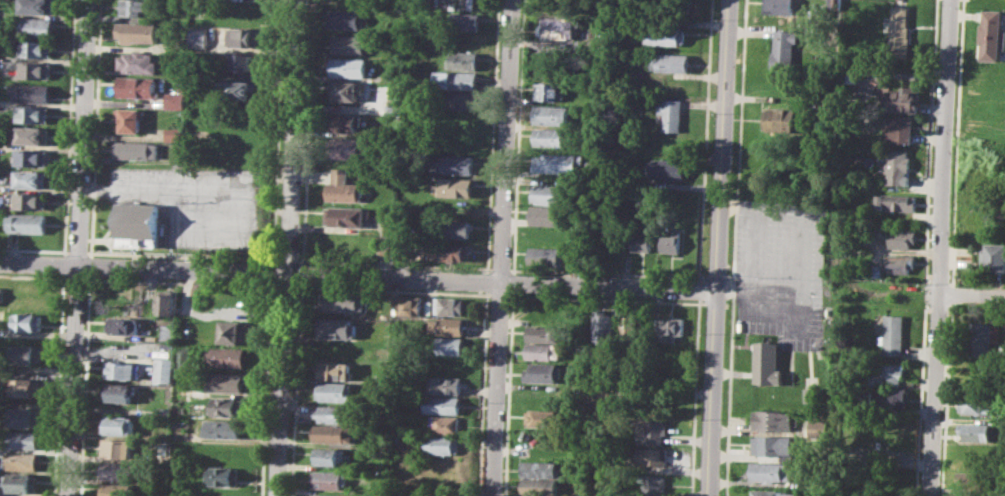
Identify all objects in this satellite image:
building: (37, 6)
building: (832, 6)
building: (136, 7)
building: (780, 7)
building: (243, 13)
building: (347, 19)
building: (462, 21)
building: (560, 26)
building: (34, 27)
building: (901, 30)
building: (140, 32)
building: (664, 34)
building: (991, 34)
building: (241, 37)
building: (349, 44)
building: (786, 48)
building: (36, 49)
building: (462, 60)
building: (670, 61)
building: (137, 63)
building: (243, 63)
building: (348, 67)
building: (36, 70)
building: (851, 75)
building: (456, 80)
building: (138, 86)
building: (240, 89)
building: (346, 90)
building: (31, 92)
building: (549, 92)
building: (459, 100)
building: (903, 100)
building: (174, 101)
building: (828, 105)
building: (33, 113)
building: (672, 113)
building: (552, 114)
building: (782, 118)
building: (130, 119)
building: (458, 120)
building: (346, 123)
building: (900, 128)
building: (174, 133)
building: (31, 134)
building: (552, 136)
building: (458, 142)
road: (724, 145)
road: (944, 146)
building: (347, 147)
building: (136, 149)
building: (33, 157)
building: (178, 159)
building: (557, 161)
building: (457, 164)
building: (899, 167)
building: (667, 168)
building: (31, 178)
building: (343, 187)
building: (457, 187)
building: (550, 194)
building: (31, 201)
building: (896, 202)
parking lot: (192, 203)
building: (549, 214)
building: (345, 216)
building: (28, 223)
building: (137, 224)
building: (456, 230)
building: (899, 237)
building: (643, 240)
building: (672, 242)
road: (77, 247)
road: (286, 247)
road: (503, 247)
building: (387, 248)
road: (757, 248)
building: (453, 252)
building: (547, 256)
building: (994, 257)
building: (899, 263)
building: (873, 270)
road: (359, 278)
building: (2, 294)
road: (971, 294)
building: (342, 301)
building: (166, 303)
building: (449, 305)
building: (409, 306)
building: (27, 321)
building: (632, 323)
building: (124, 325)
building: (671, 325)
building: (447, 326)
building: (603, 326)
building: (337, 327)
building: (234, 331)
building: (170, 332)
building: (542, 332)
building: (892, 335)
building: (983, 338)
building: (449, 345)
building: (541, 351)
building: (26, 353)
building: (230, 357)
building: (768, 364)
building: (446, 365)
building: (336, 369)
building: (123, 370)
building: (166, 371)
building: (544, 371)
building: (886, 374)
building: (228, 382)
building: (445, 384)
building: (27, 387)
building: (335, 390)
building: (120, 392)
road: (716, 394)
building: (812, 394)
road: (933, 394)
building: (887, 397)
building: (653, 402)
building: (442, 404)
building: (978, 405)
building: (228, 406)
building: (335, 413)
building: (24, 417)
building: (545, 417)
building: (774, 420)
building: (445, 423)
building: (119, 425)
building: (819, 427)
building: (224, 428)
building: (977, 431)
building: (652, 432)
building: (335, 433)
building: (23, 439)
building: (442, 444)
building: (775, 446)
building: (118, 448)
building: (894, 449)
building: (333, 456)
building: (650, 456)
building: (21, 460)
building: (540, 468)
building: (118, 470)
building: (772, 471)
building: (226, 475)
building: (331, 479)
building: (978, 479)
building: (22, 482)
building: (652, 483)
building: (538, 486)
building: (117, 489)
building: (774, 493)
building: (329, 494)
building: (160, 495)

